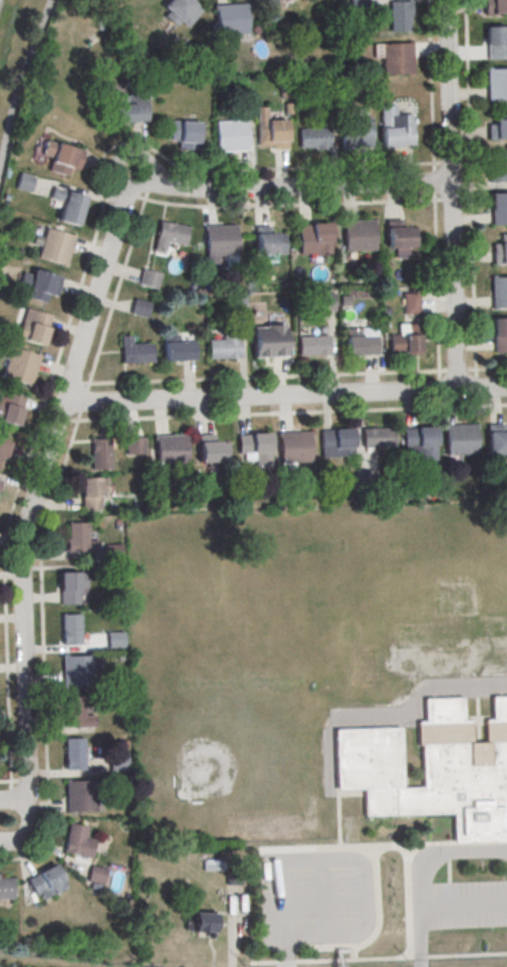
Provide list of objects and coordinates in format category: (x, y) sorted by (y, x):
building: (271, 2)
building: (496, 6)
building: (179, 11)
building: (400, 15)
building: (230, 18)
building: (495, 41)
building: (396, 59)
road: (18, 80)
building: (496, 84)
building: (130, 106)
building: (497, 126)
building: (394, 127)
building: (183, 132)
building: (270, 133)
building: (354, 133)
building: (231, 135)
building: (313, 138)
building: (65, 160)
building: (497, 168)
building: (25, 182)
road: (291, 187)
road: (434, 190)
road: (450, 194)
road: (470, 194)
road: (172, 204)
building: (67, 205)
building: (499, 207)
building: (168, 234)
building: (398, 235)
building: (358, 236)
building: (313, 237)
building: (219, 240)
building: (267, 241)
building: (54, 246)
building: (499, 251)
building: (148, 279)
building: (43, 287)
building: (498, 293)
building: (326, 301)
building: (411, 302)
road: (73, 304)
building: (139, 308)
building: (33, 327)
building: (499, 335)
building: (268, 341)
building: (404, 344)
building: (225, 345)
building: (313, 345)
building: (361, 345)
building: (179, 350)
building: (137, 353)
building: (21, 366)
road: (491, 369)
road: (281, 377)
road: (439, 385)
road: (285, 395)
building: (10, 408)
road: (291, 413)
building: (418, 436)
building: (336, 438)
building: (377, 438)
building: (497, 438)
building: (460, 440)
building: (133, 441)
building: (253, 441)
building: (294, 446)
building: (213, 448)
building: (171, 450)
building: (4, 453)
building: (100, 453)
building: (89, 494)
road: (27, 515)
building: (76, 536)
building: (68, 588)
building: (70, 629)
building: (115, 639)
road: (42, 653)
building: (76, 671)
road: (420, 700)
building: (76, 713)
building: (74, 754)
building: (435, 770)
building: (80, 796)
road: (14, 800)
building: (78, 841)
road: (383, 850)
road: (323, 862)
building: (212, 864)
building: (96, 874)
road: (423, 874)
building: (46, 882)
building: (5, 888)
road: (322, 901)
road: (366, 901)
road: (278, 902)
road: (407, 905)
road: (469, 908)
road: (425, 910)
building: (202, 922)
road: (374, 934)
road: (324, 938)
road: (290, 952)
road: (285, 953)
road: (352, 954)
road: (354, 956)
road: (467, 958)
road: (420, 960)
road: (331, 963)

